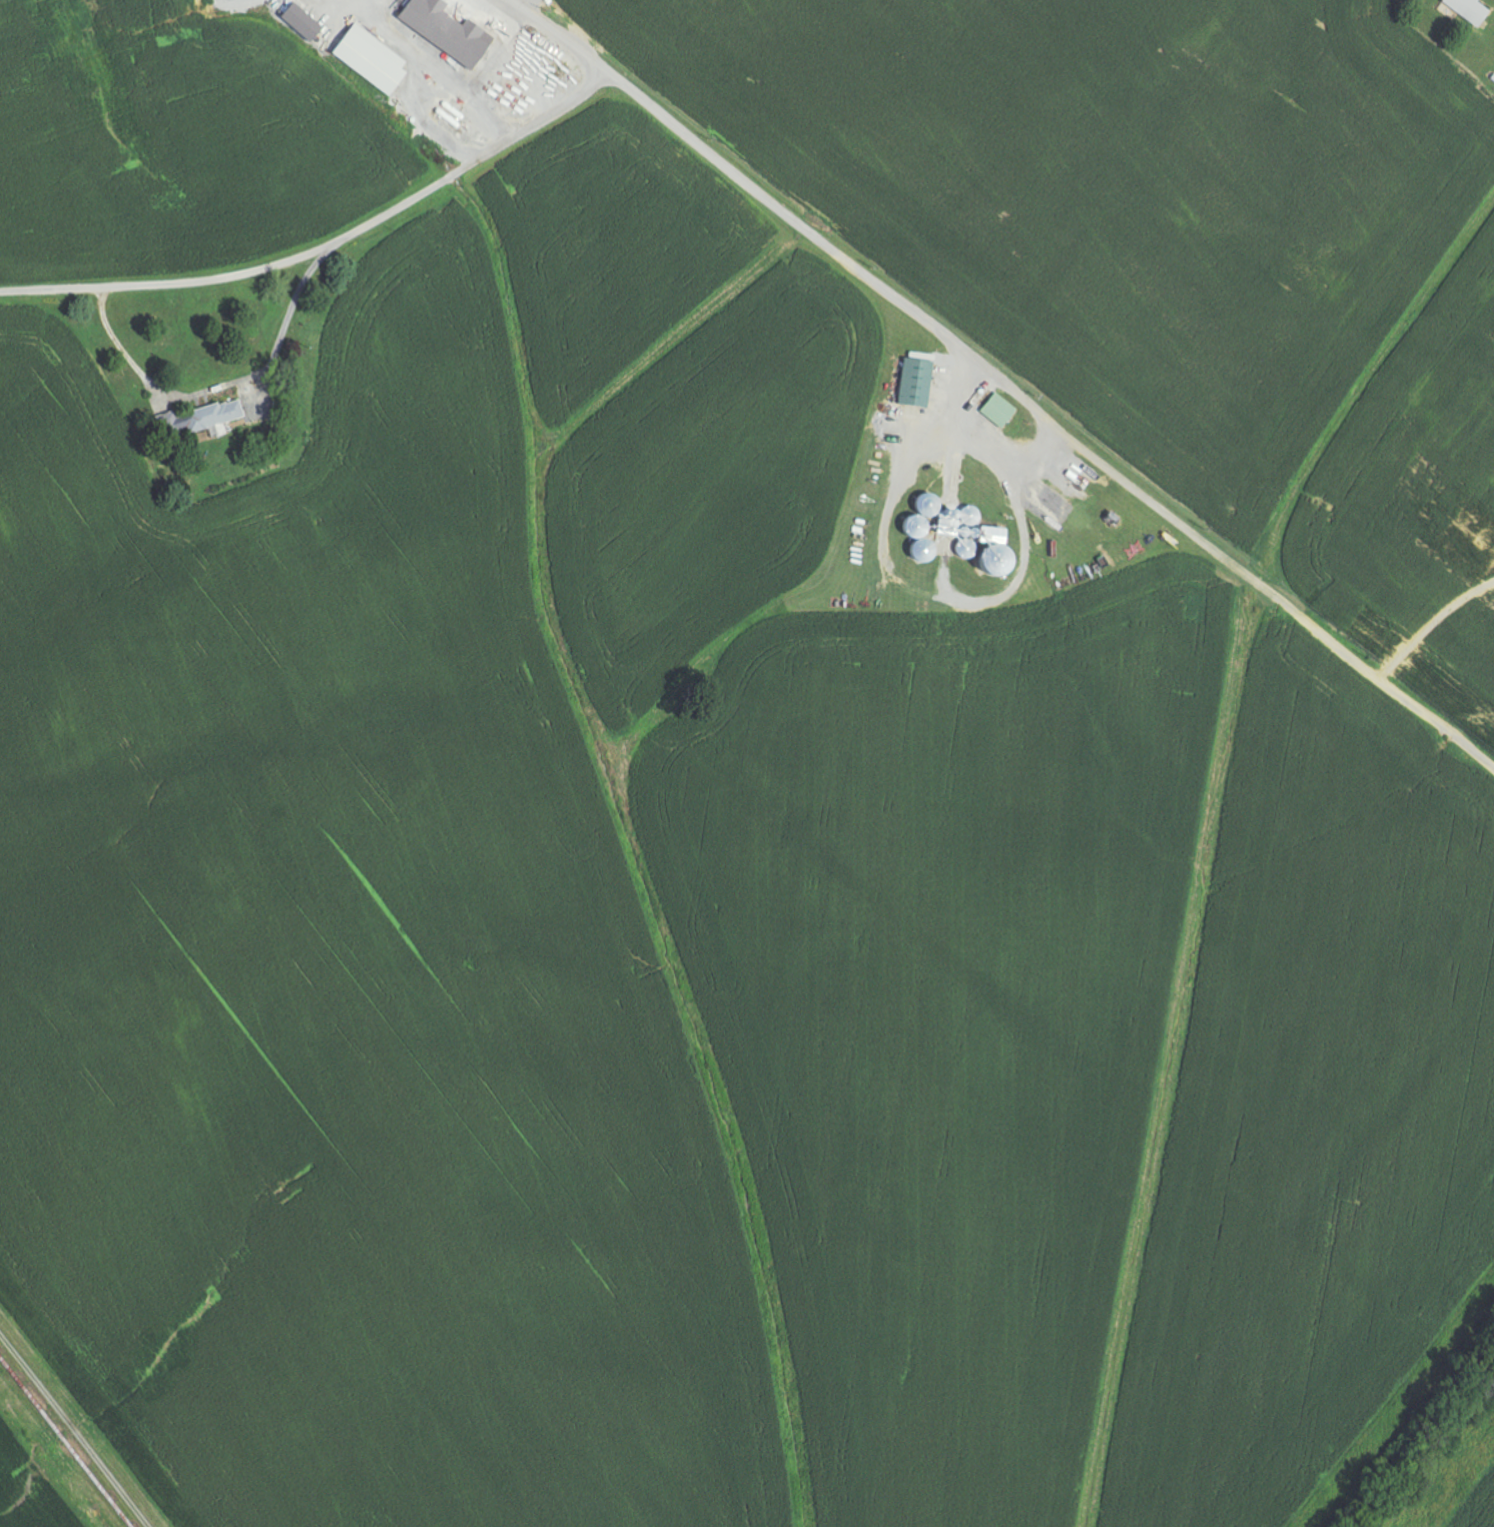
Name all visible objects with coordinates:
building: (1471, 10)
building: (304, 21)
building: (448, 30)
building: (373, 59)
road: (326, 247)
road: (1003, 382)
road: (218, 383)
building: (918, 383)
building: (1000, 410)
building: (212, 417)
building: (219, 431)

